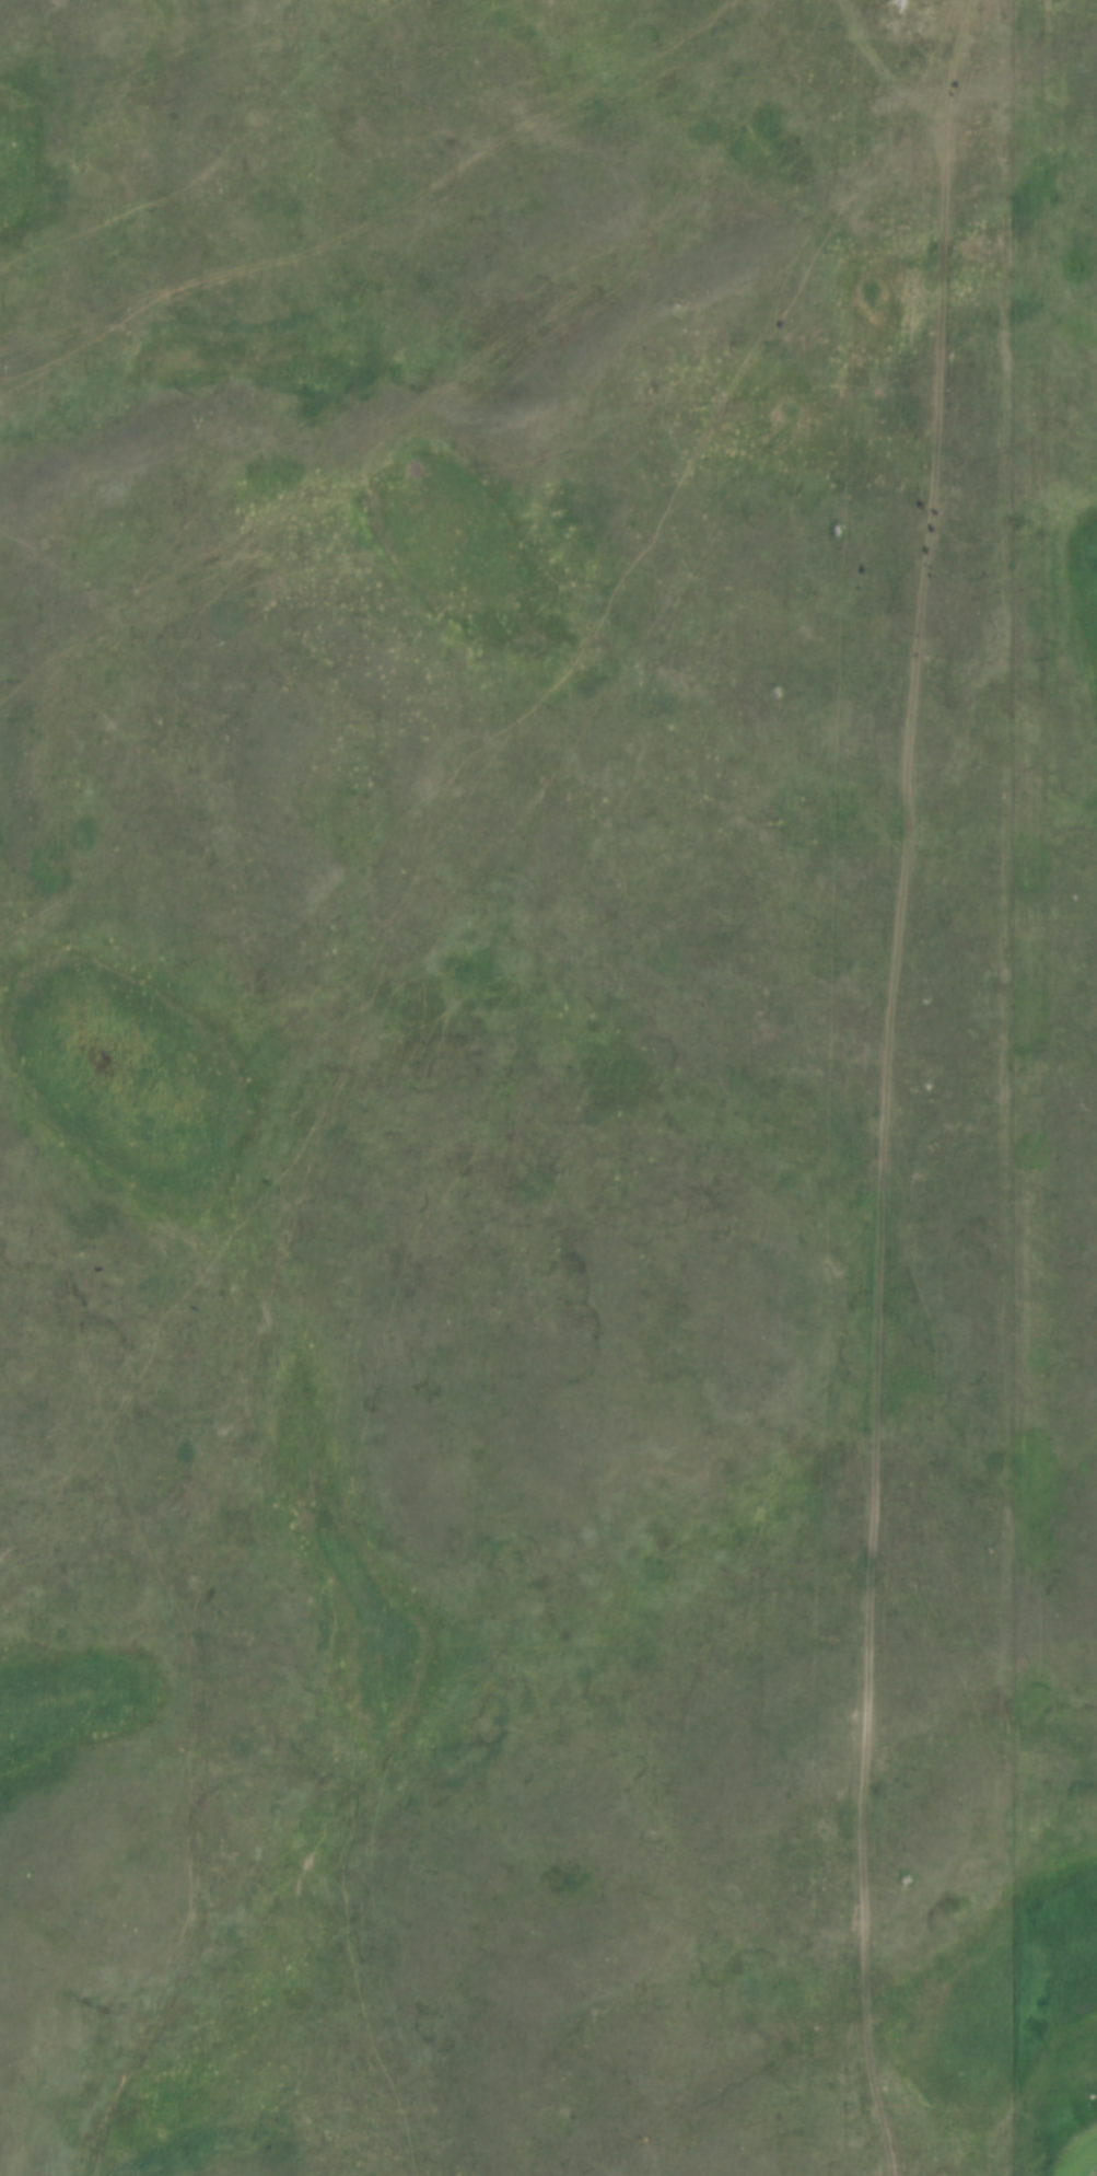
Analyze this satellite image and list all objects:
road: (889, 1070)

